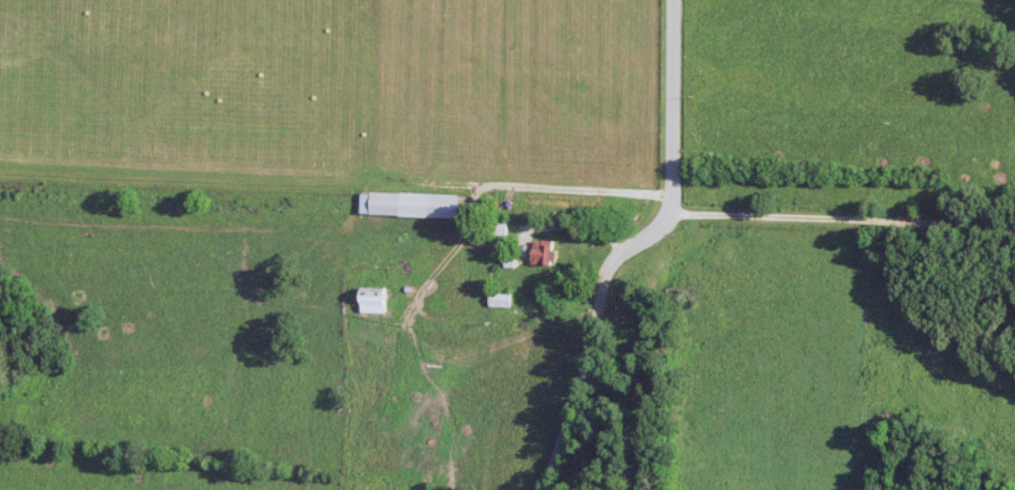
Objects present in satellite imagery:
airport runway: (327, 154)
building: (413, 204)
road: (843, 216)
road: (634, 247)
building: (545, 252)
building: (501, 299)
building: (376, 300)

